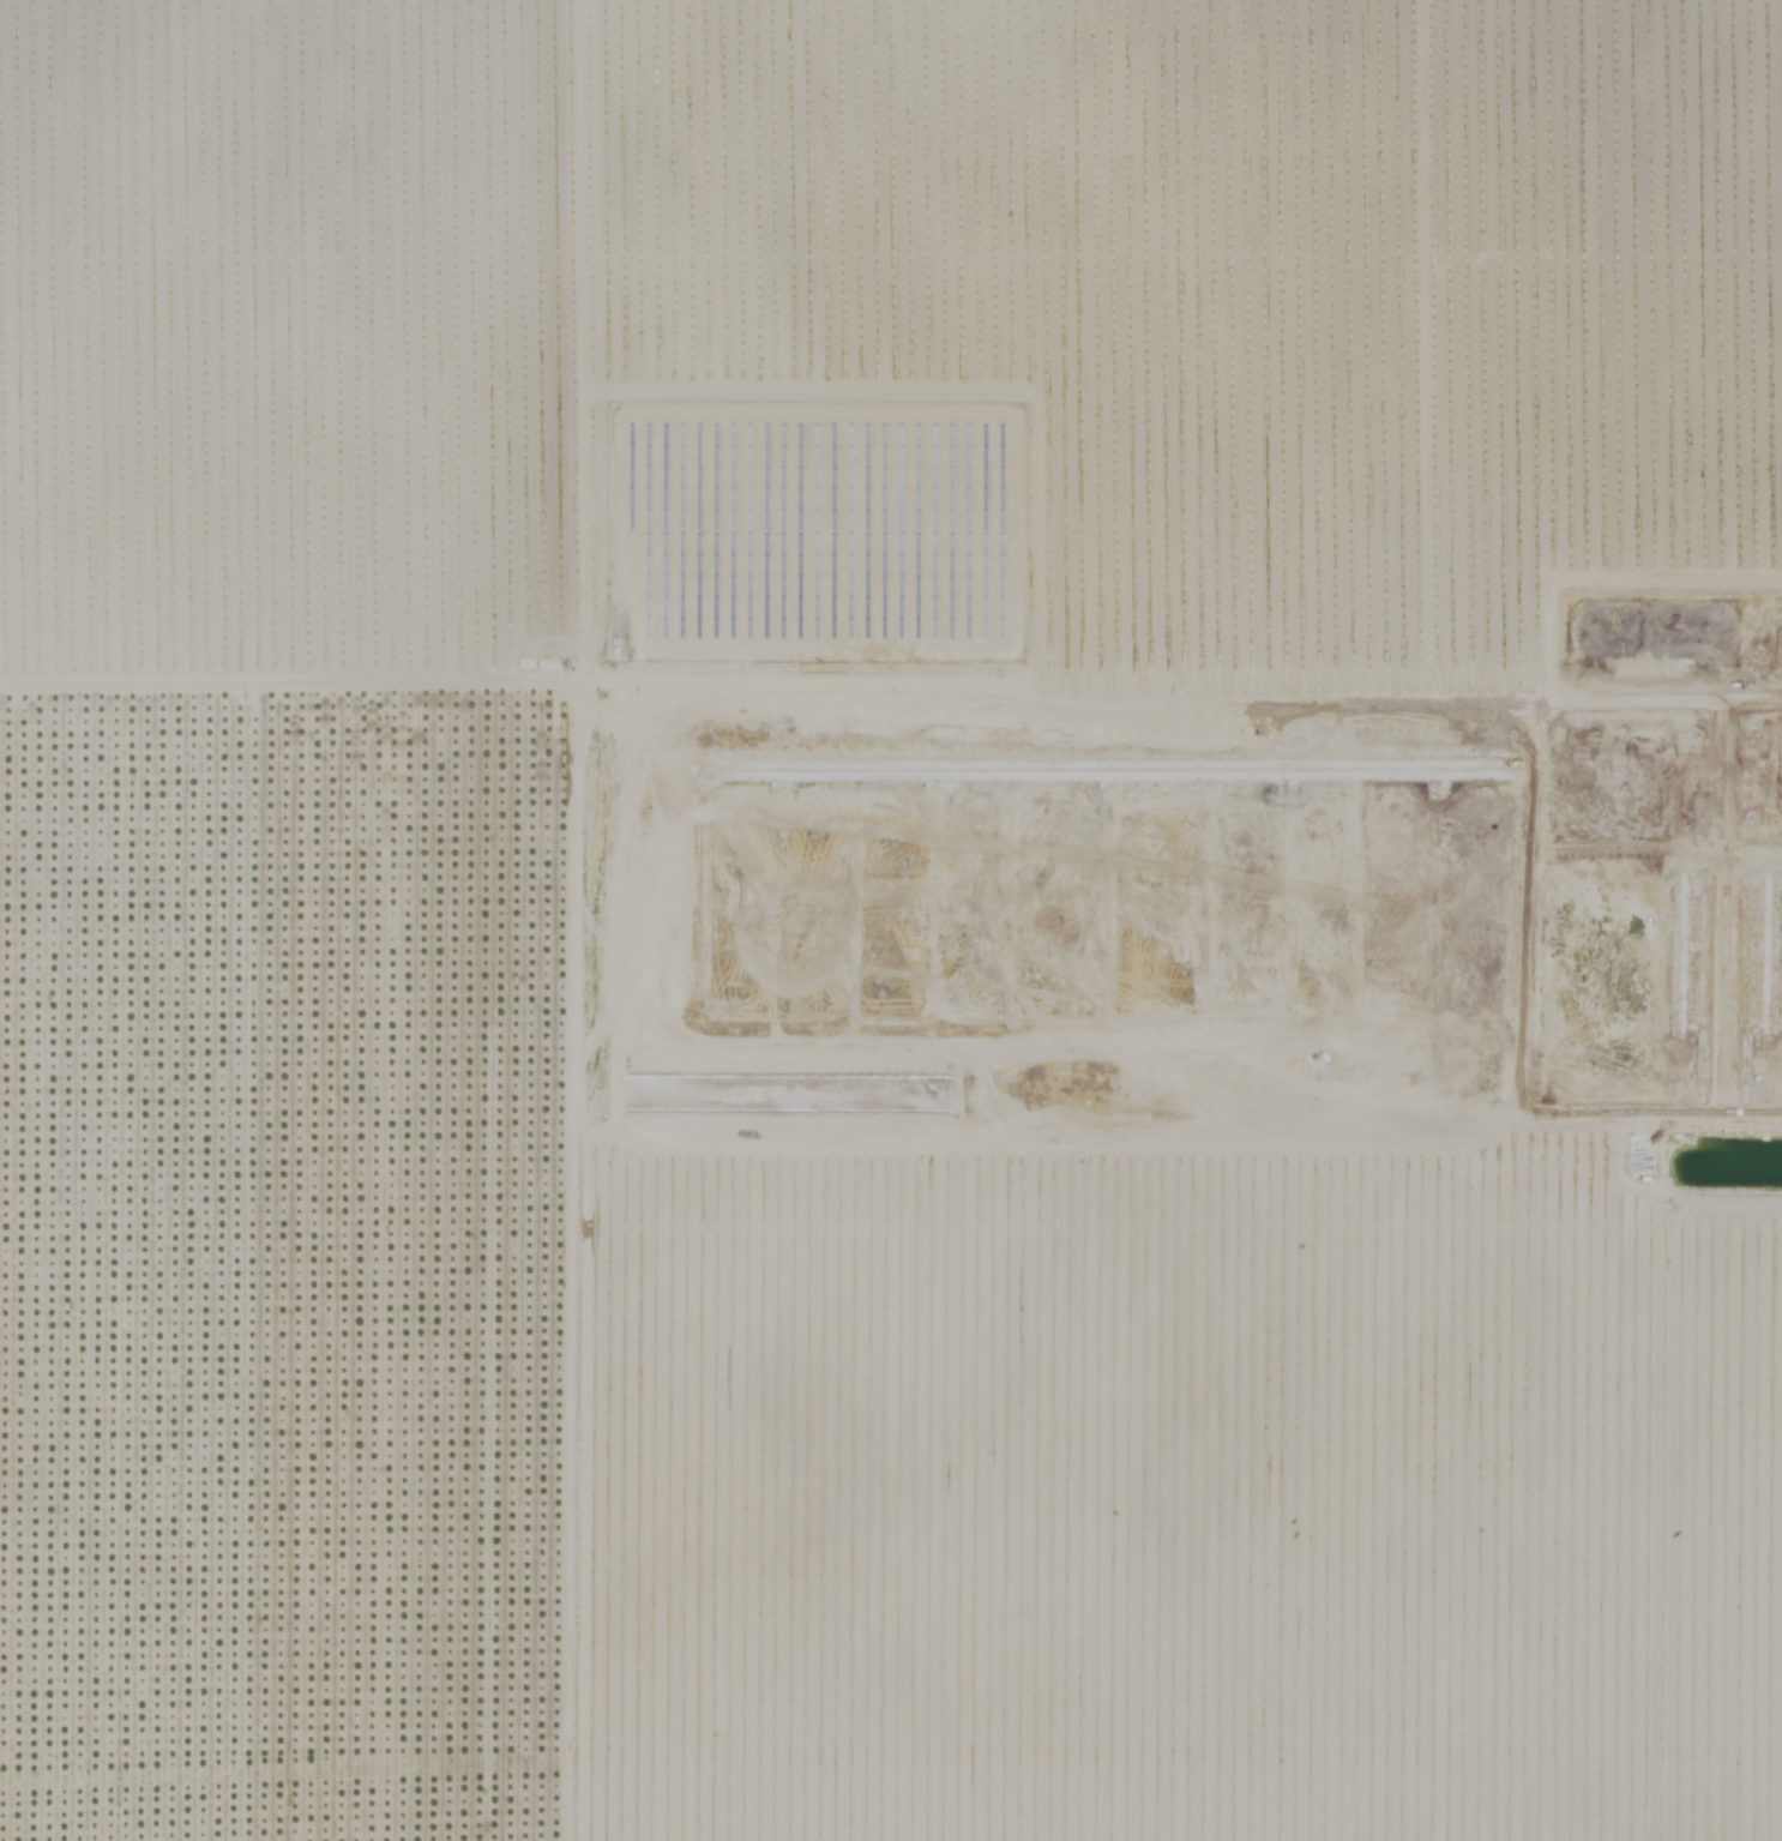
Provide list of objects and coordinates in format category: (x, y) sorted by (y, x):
solar farm: (814, 531)
building: (1778, 649)
building: (1403, 733)
building: (1777, 776)
building: (1668, 808)
road: (1523, 909)
crop: (293, 927)
building: (1717, 969)

